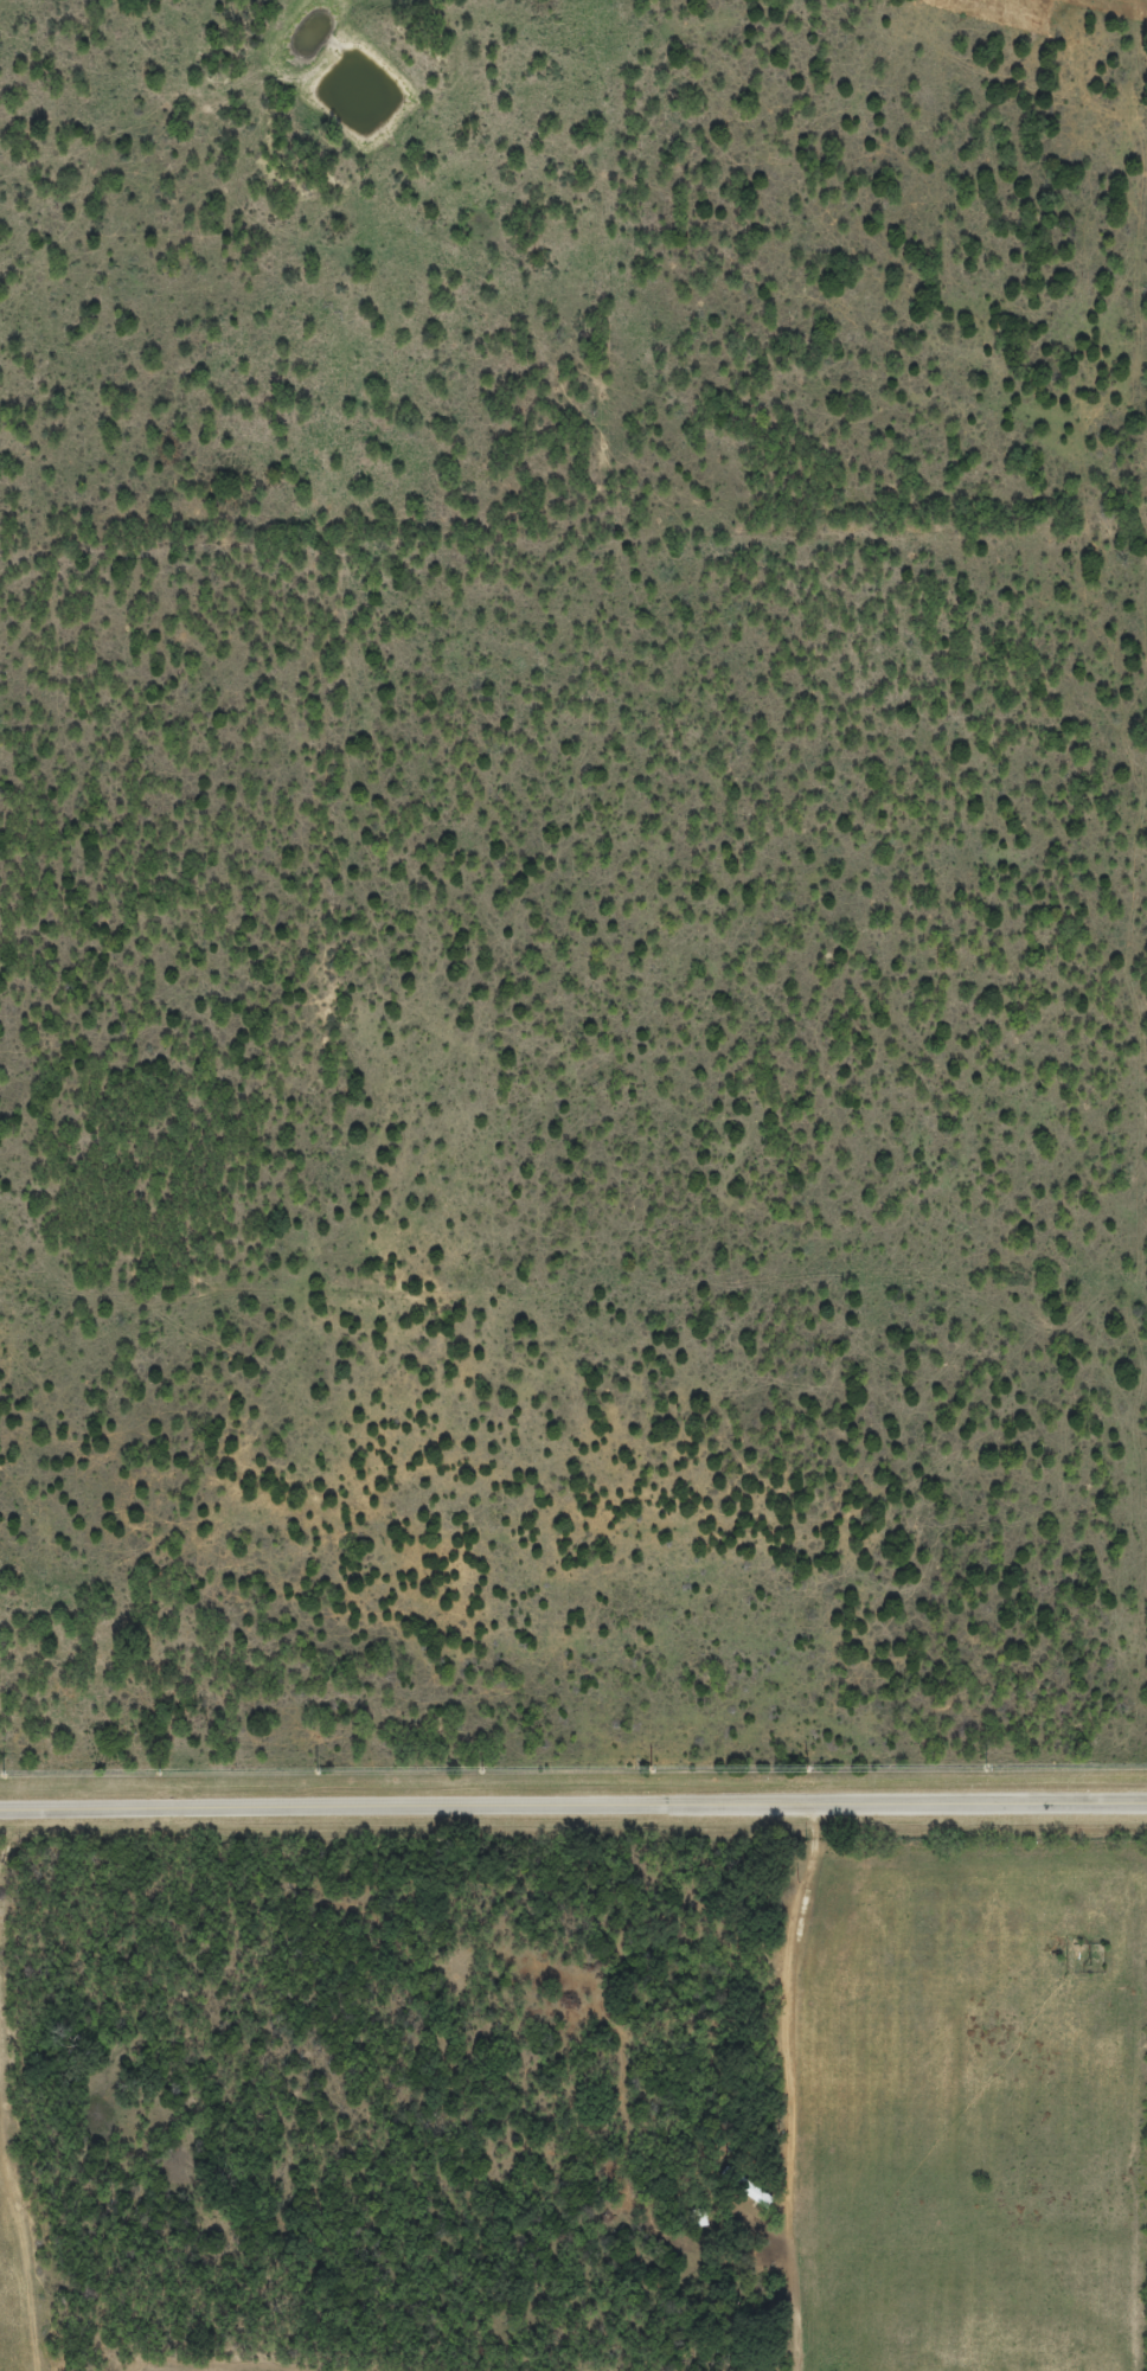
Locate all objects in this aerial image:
road: (573, 1813)

